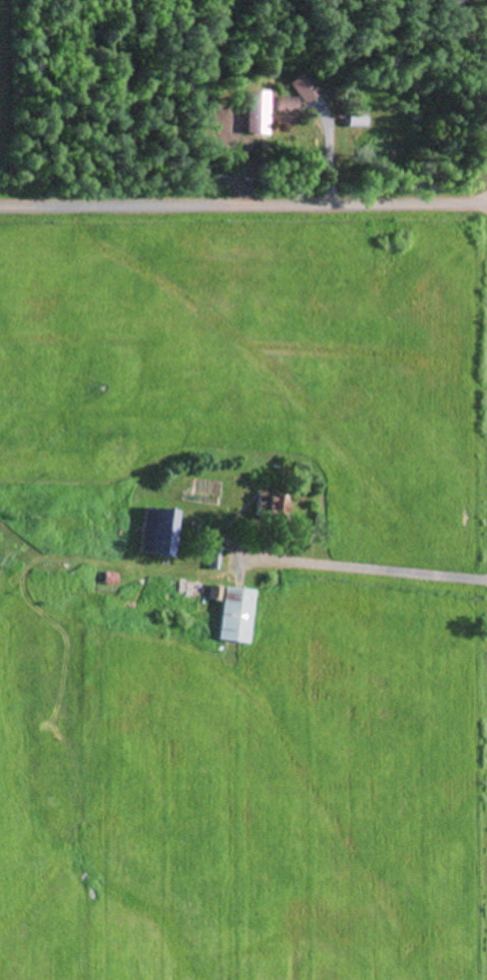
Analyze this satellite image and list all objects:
building: (299, 86)
crop: (3, 93)
building: (280, 104)
building: (252, 112)
road: (243, 202)
crop: (256, 358)
building: (257, 507)
building: (152, 531)
building: (229, 614)
crop: (251, 805)

